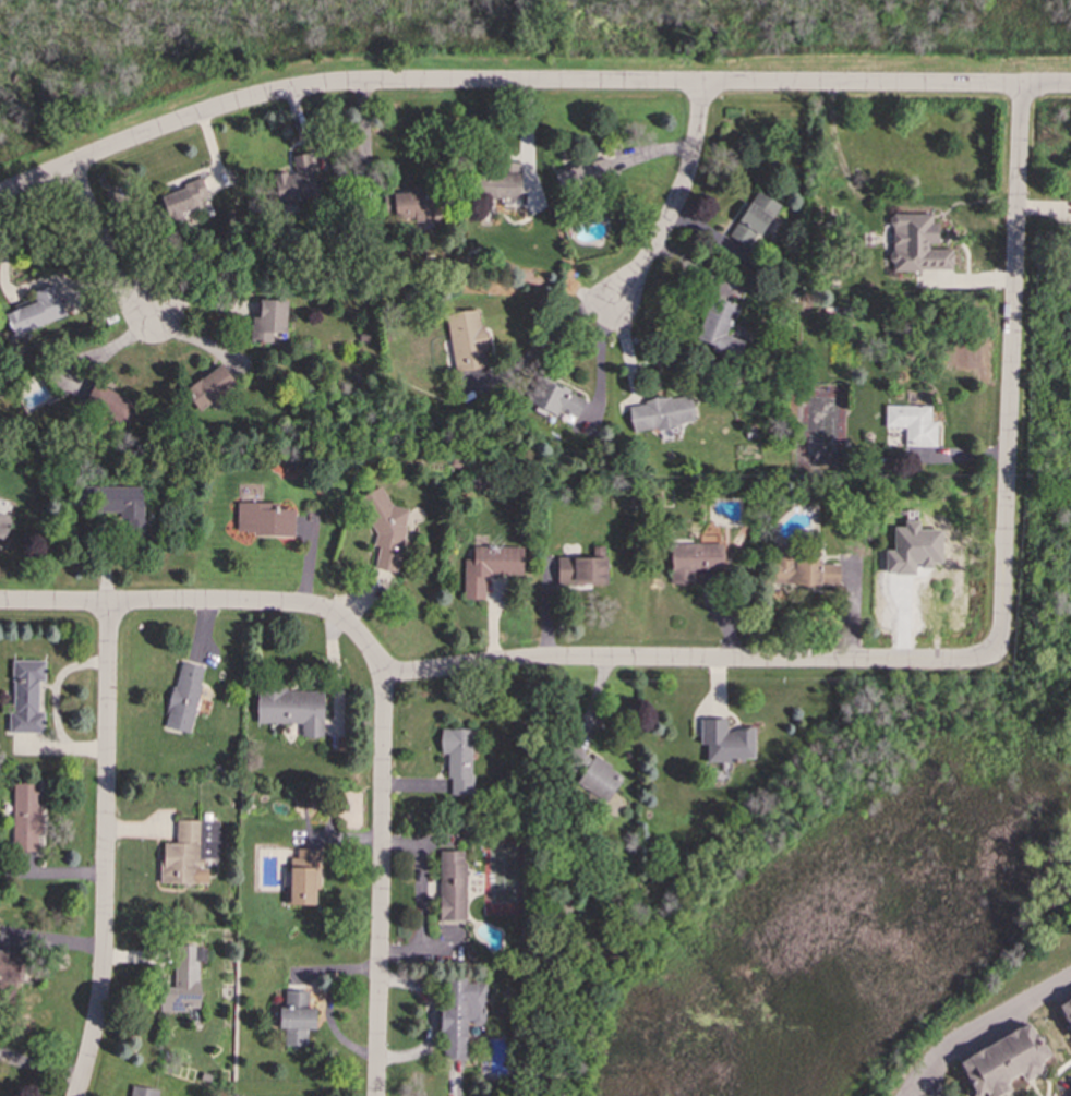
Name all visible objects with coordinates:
road: (526, 80)
road: (528, 140)
building: (501, 183)
road: (676, 198)
building: (183, 204)
building: (408, 205)
building: (753, 219)
road: (103, 242)
building: (916, 243)
building: (35, 311)
building: (269, 322)
building: (718, 327)
building: (467, 339)
road: (542, 341)
road: (1011, 372)
building: (210, 385)
building: (555, 397)
building: (109, 404)
building: (661, 415)
building: (912, 423)
road: (947, 456)
building: (118, 502)
building: (725, 511)
building: (263, 519)
building: (3, 520)
building: (385, 528)
building: (912, 549)
building: (693, 562)
building: (489, 567)
building: (582, 568)
building: (801, 570)
road: (727, 588)
road: (478, 663)
road: (336, 672)
building: (26, 696)
building: (184, 696)
building: (292, 709)
building: (725, 742)
building: (458, 759)
building: (588, 771)
building: (25, 817)
road: (105, 851)
building: (189, 852)
building: (302, 878)
road: (378, 884)
building: (452, 886)
building: (183, 979)
building: (1066, 1010)
building: (460, 1014)
building: (296, 1017)
road: (979, 1027)
building: (1003, 1061)
road: (927, 1086)
road: (1070, 1095)

